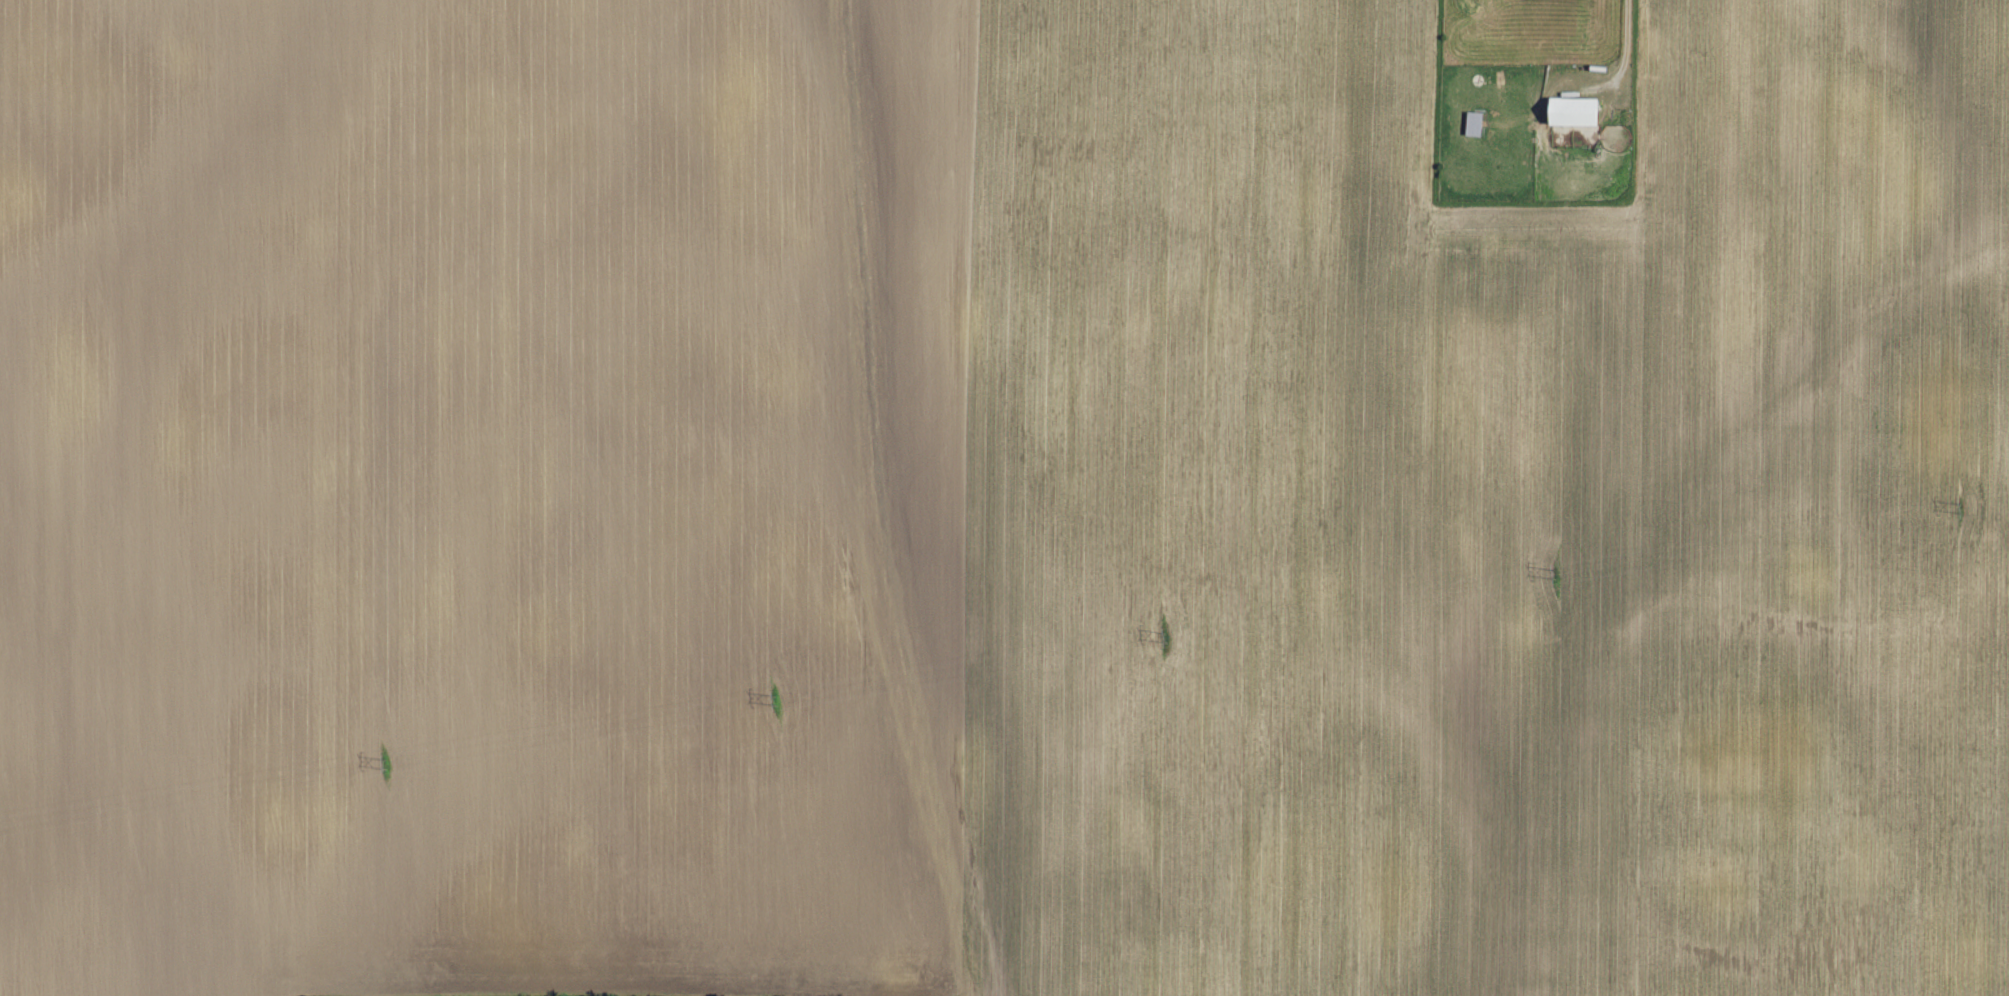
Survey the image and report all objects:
road: (1626, 45)
building: (1574, 112)
building: (1475, 123)
crop: (994, 505)
power tower: (1553, 571)

